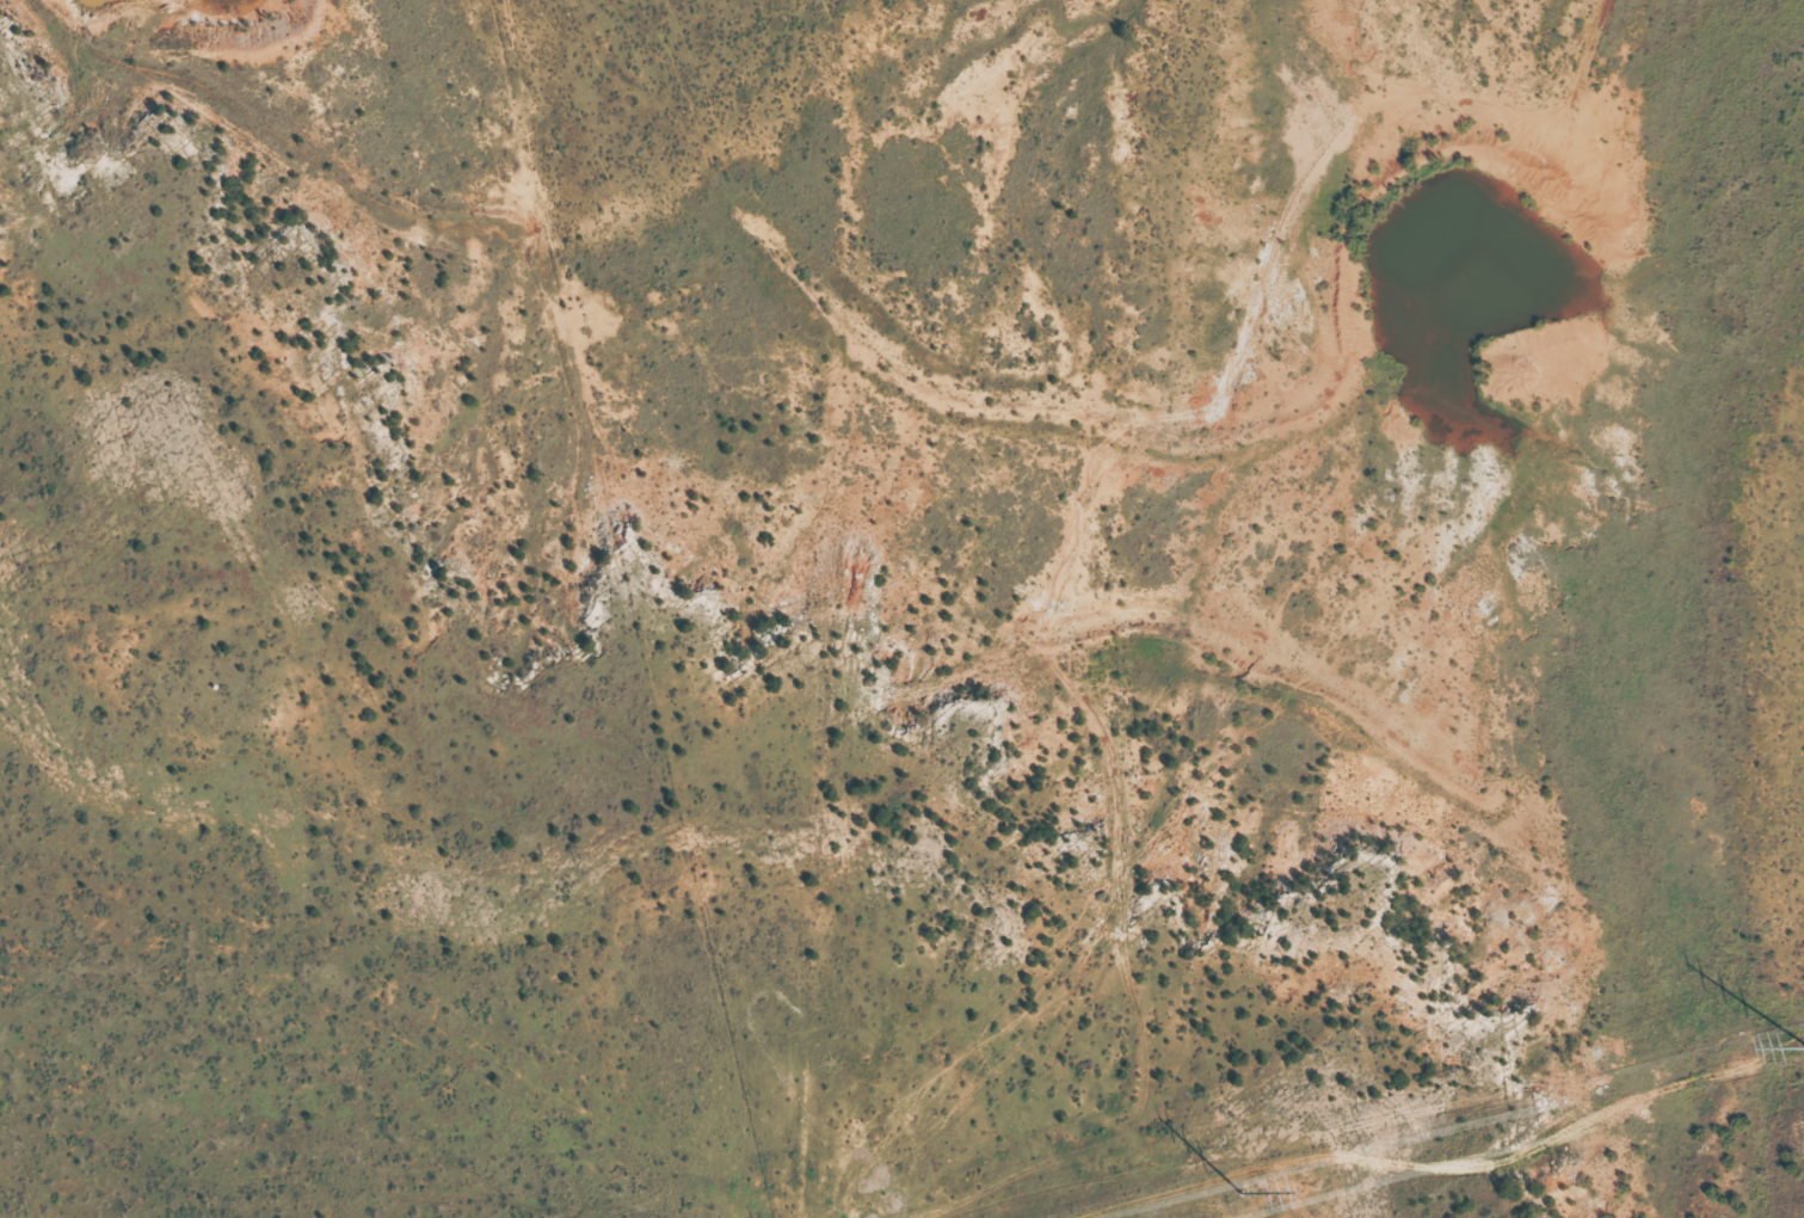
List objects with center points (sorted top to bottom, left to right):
power tower: (1242, 1192)

